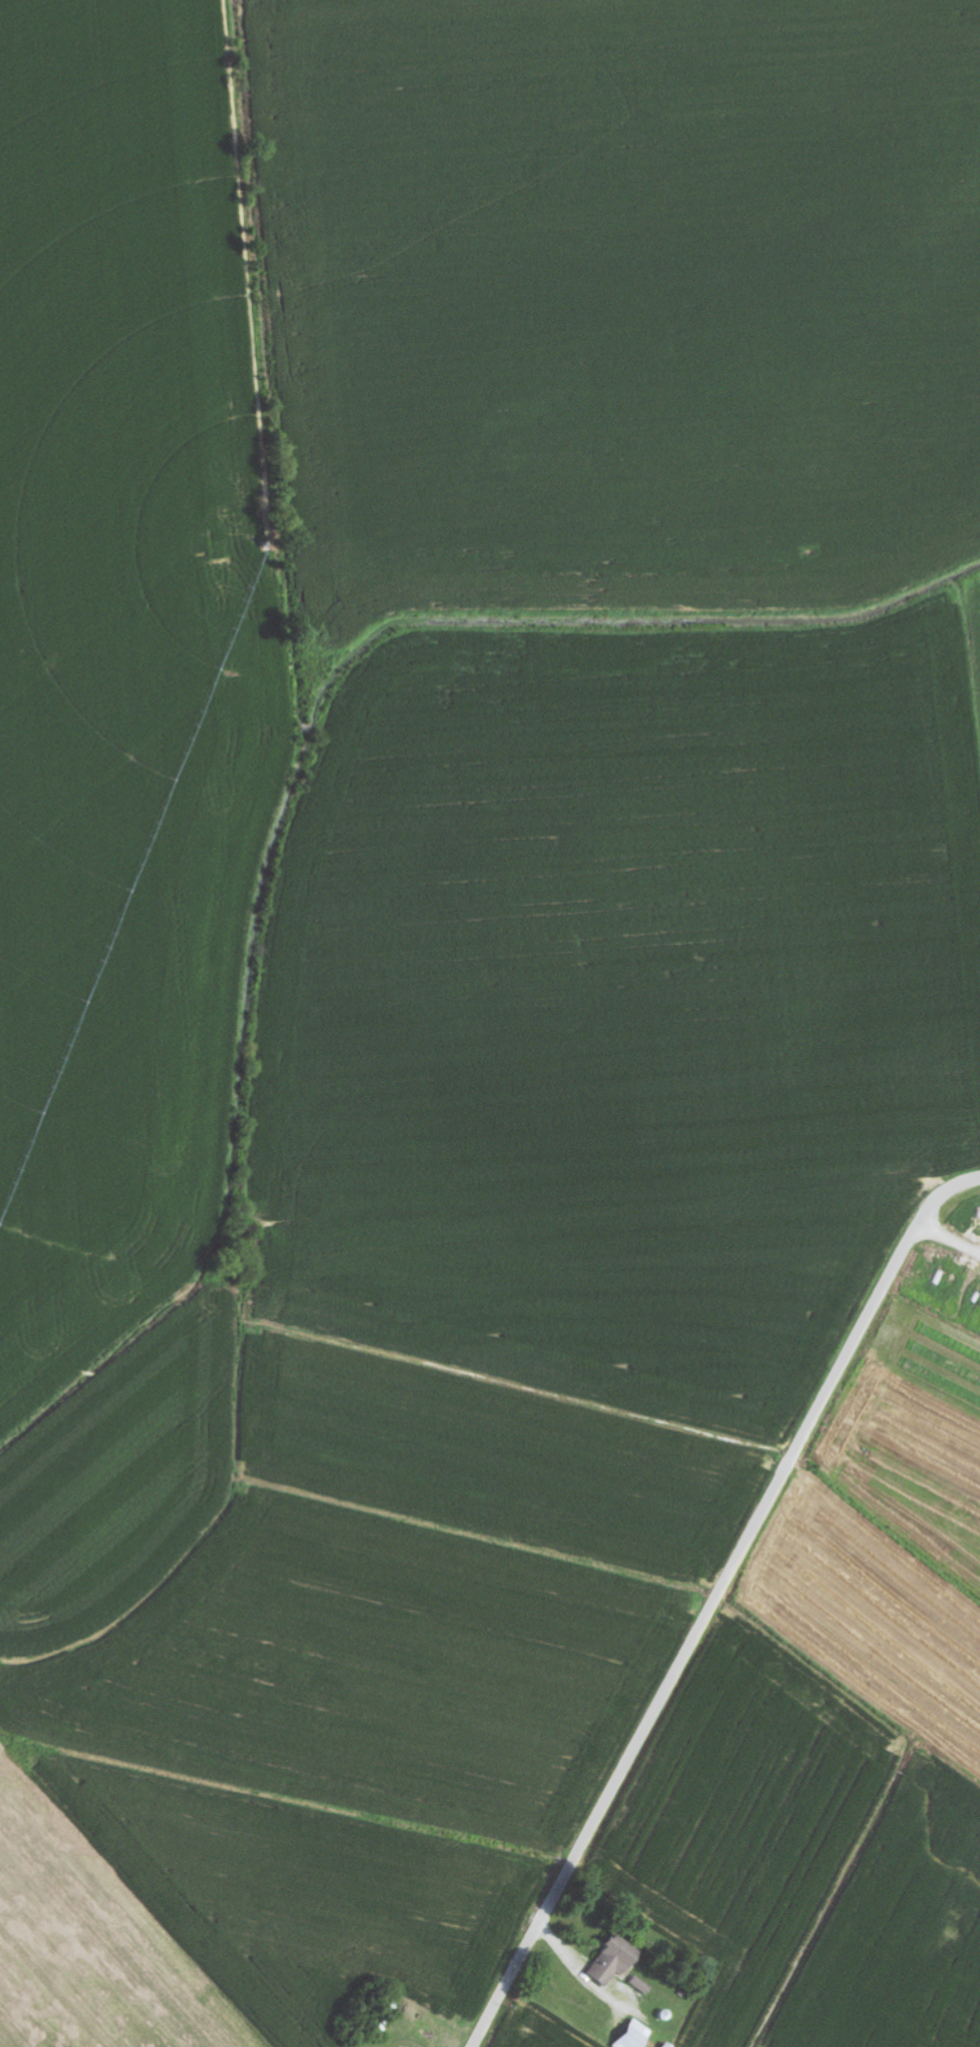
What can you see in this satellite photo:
road: (951, 1235)
road: (713, 1600)
building: (617, 1960)
building: (633, 2039)

